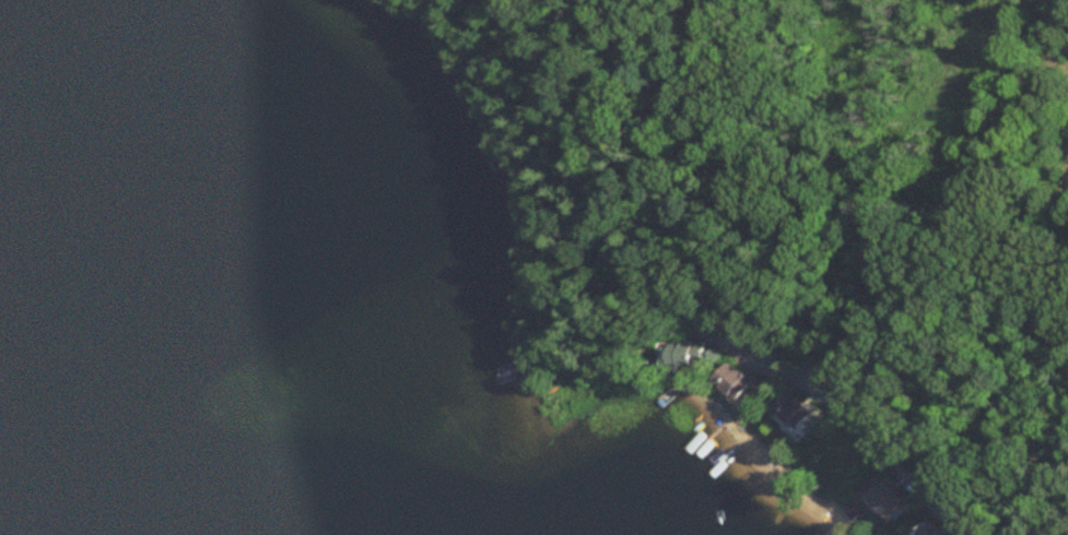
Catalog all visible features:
building: (682, 355)
building: (730, 383)
building: (790, 413)
road: (891, 454)
building: (884, 504)

